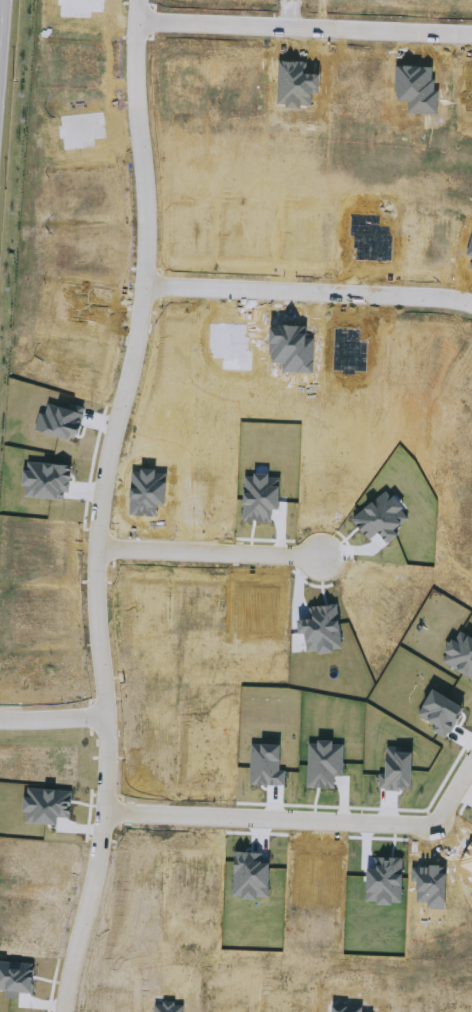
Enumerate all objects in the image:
road: (305, 23)
building: (422, 158)
road: (308, 284)
road: (118, 406)
road: (209, 546)
road: (455, 790)
road: (272, 813)
road: (98, 861)

